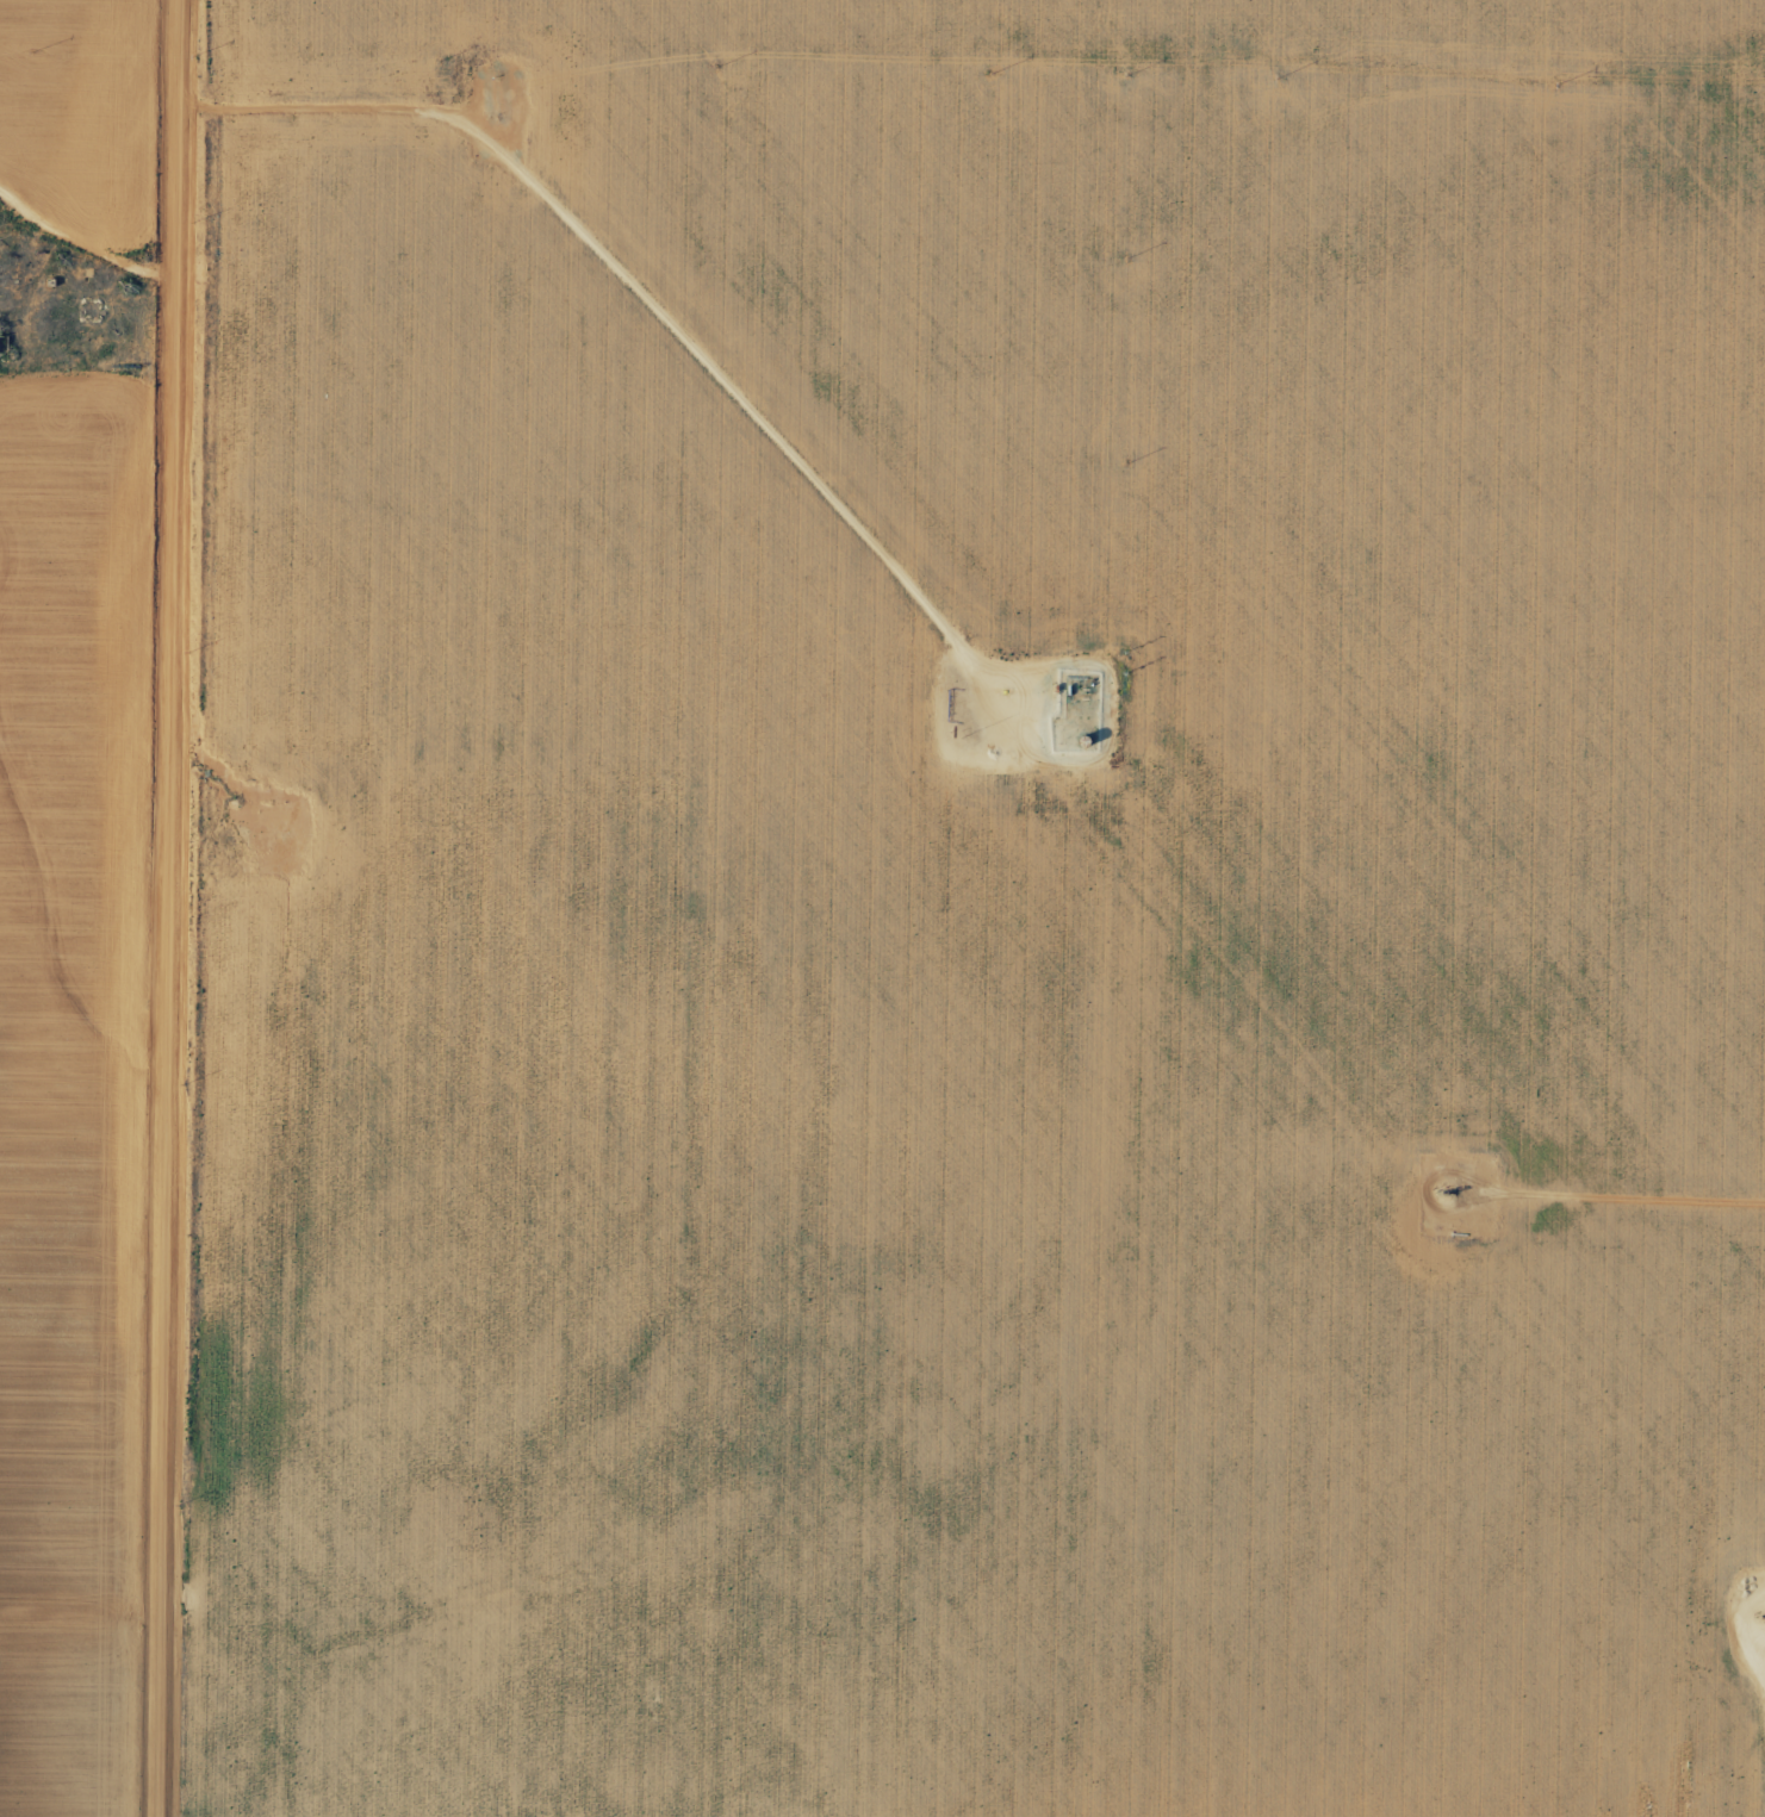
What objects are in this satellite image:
road: (666, 309)
road: (161, 908)
road: (1664, 1275)

